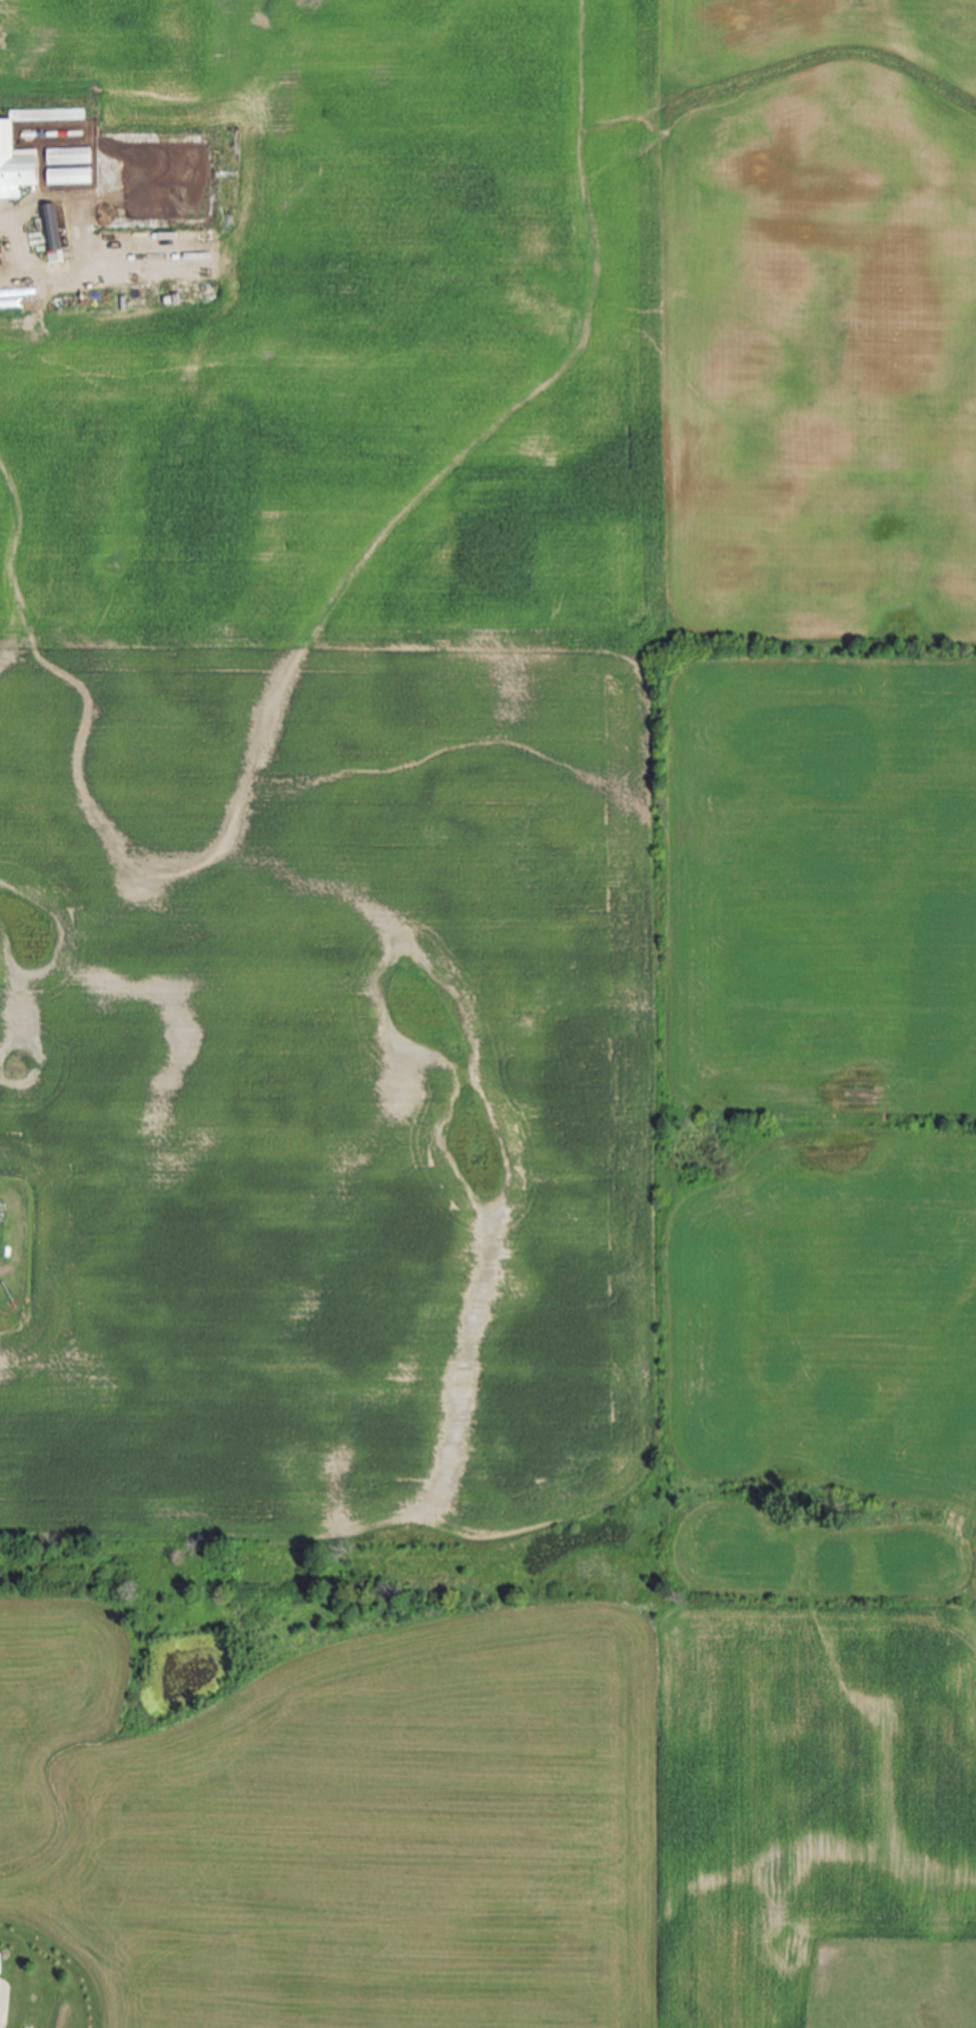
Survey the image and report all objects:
building: (67, 133)
building: (70, 156)
building: (16, 168)
building: (71, 176)
building: (51, 228)

